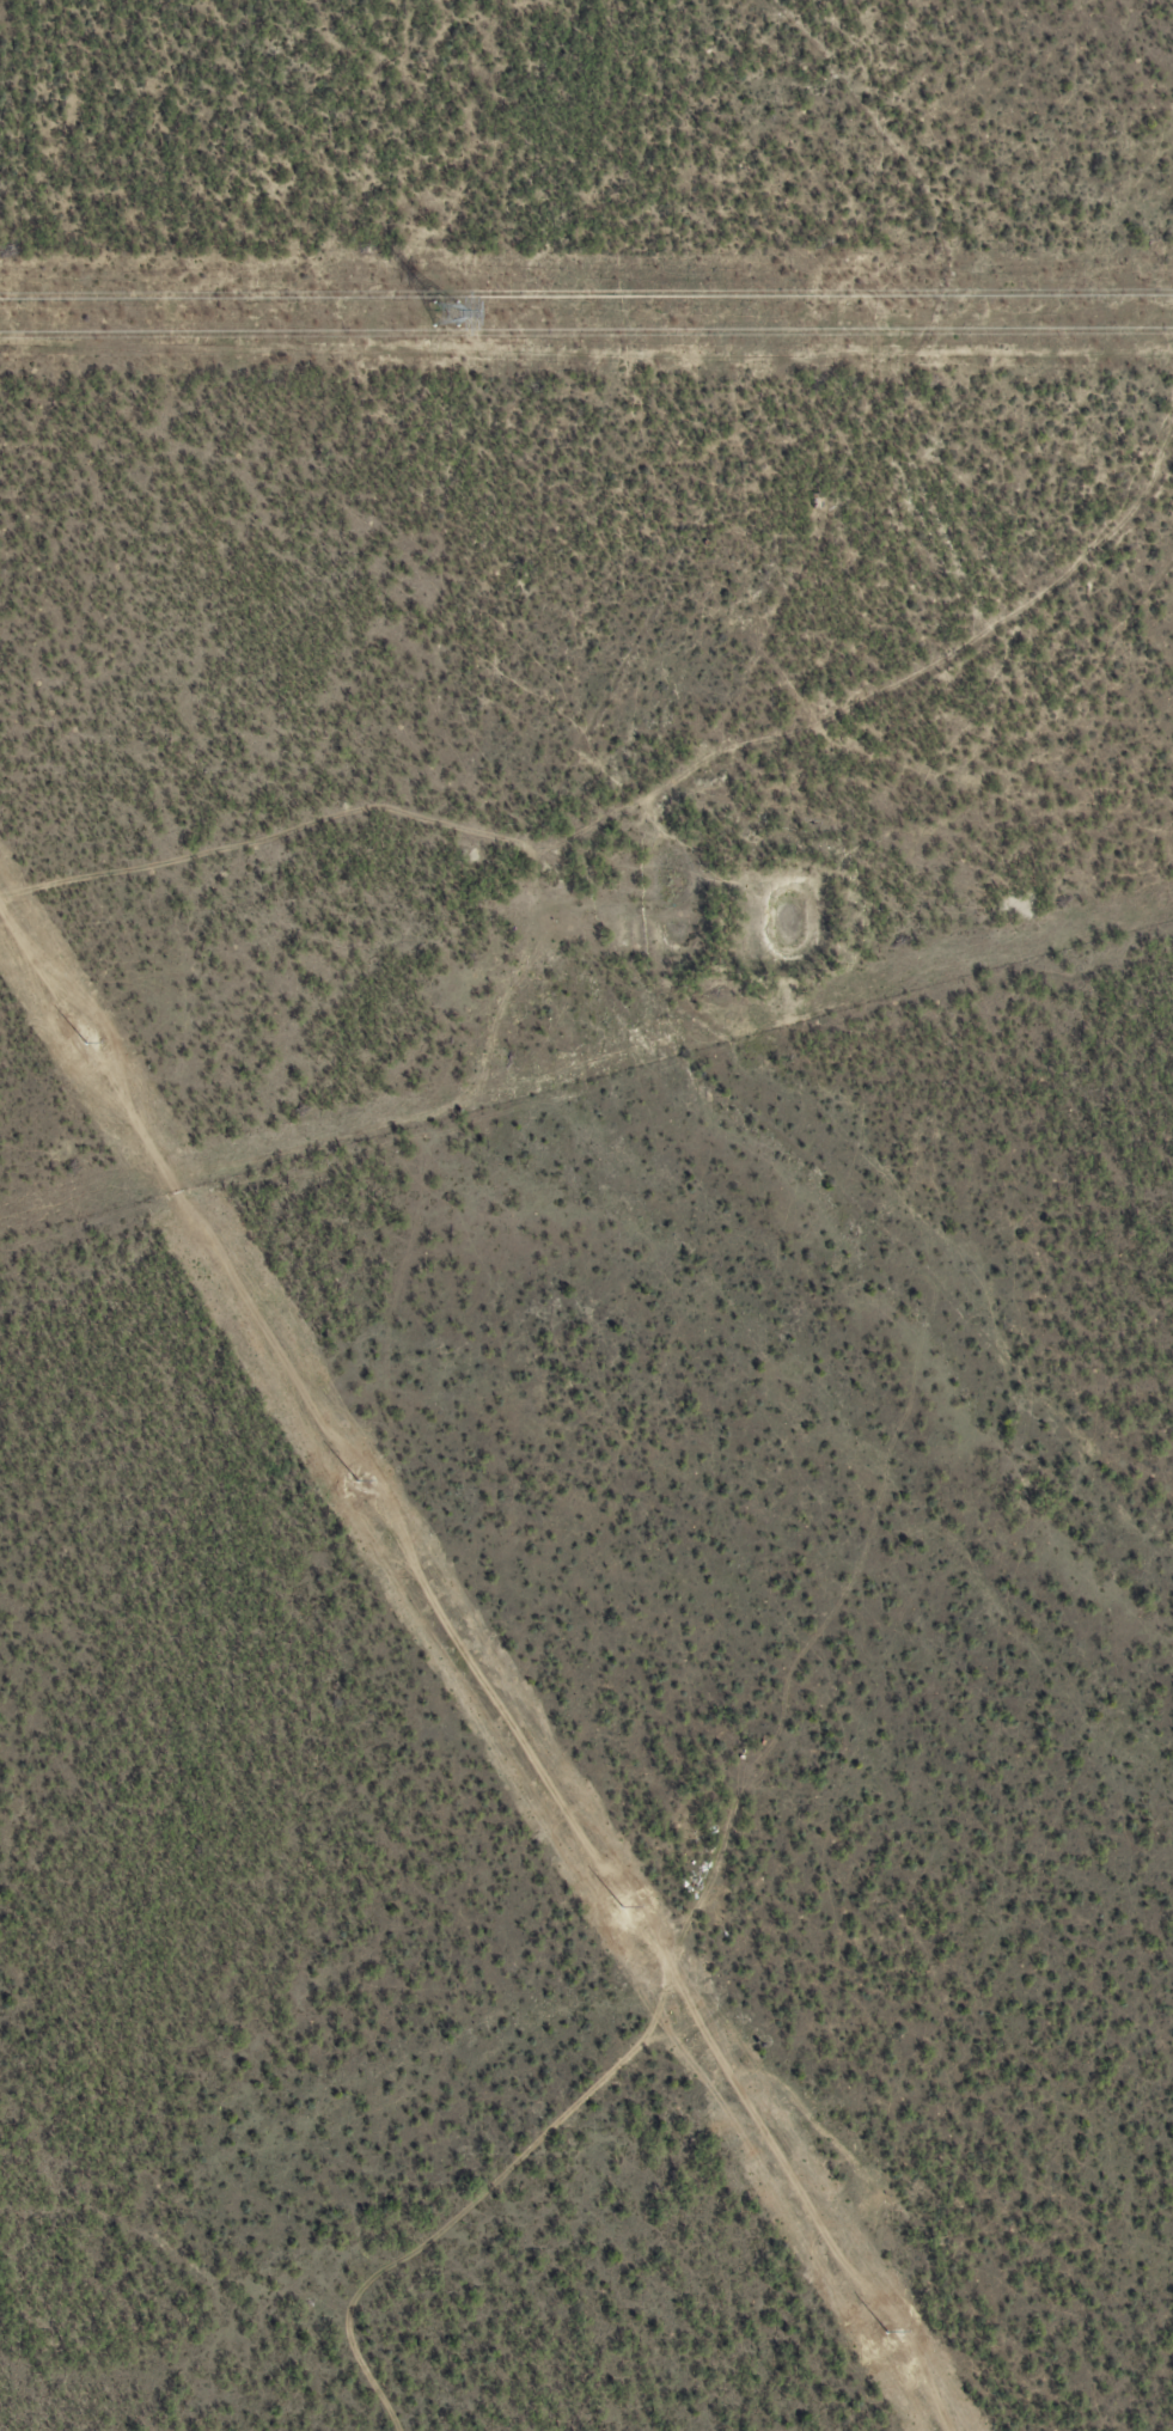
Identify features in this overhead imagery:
power tower: (445, 314)
road: (337, 853)
power tower: (90, 1053)
power tower: (356, 1478)
power tower: (622, 1905)
power tower: (882, 2329)

